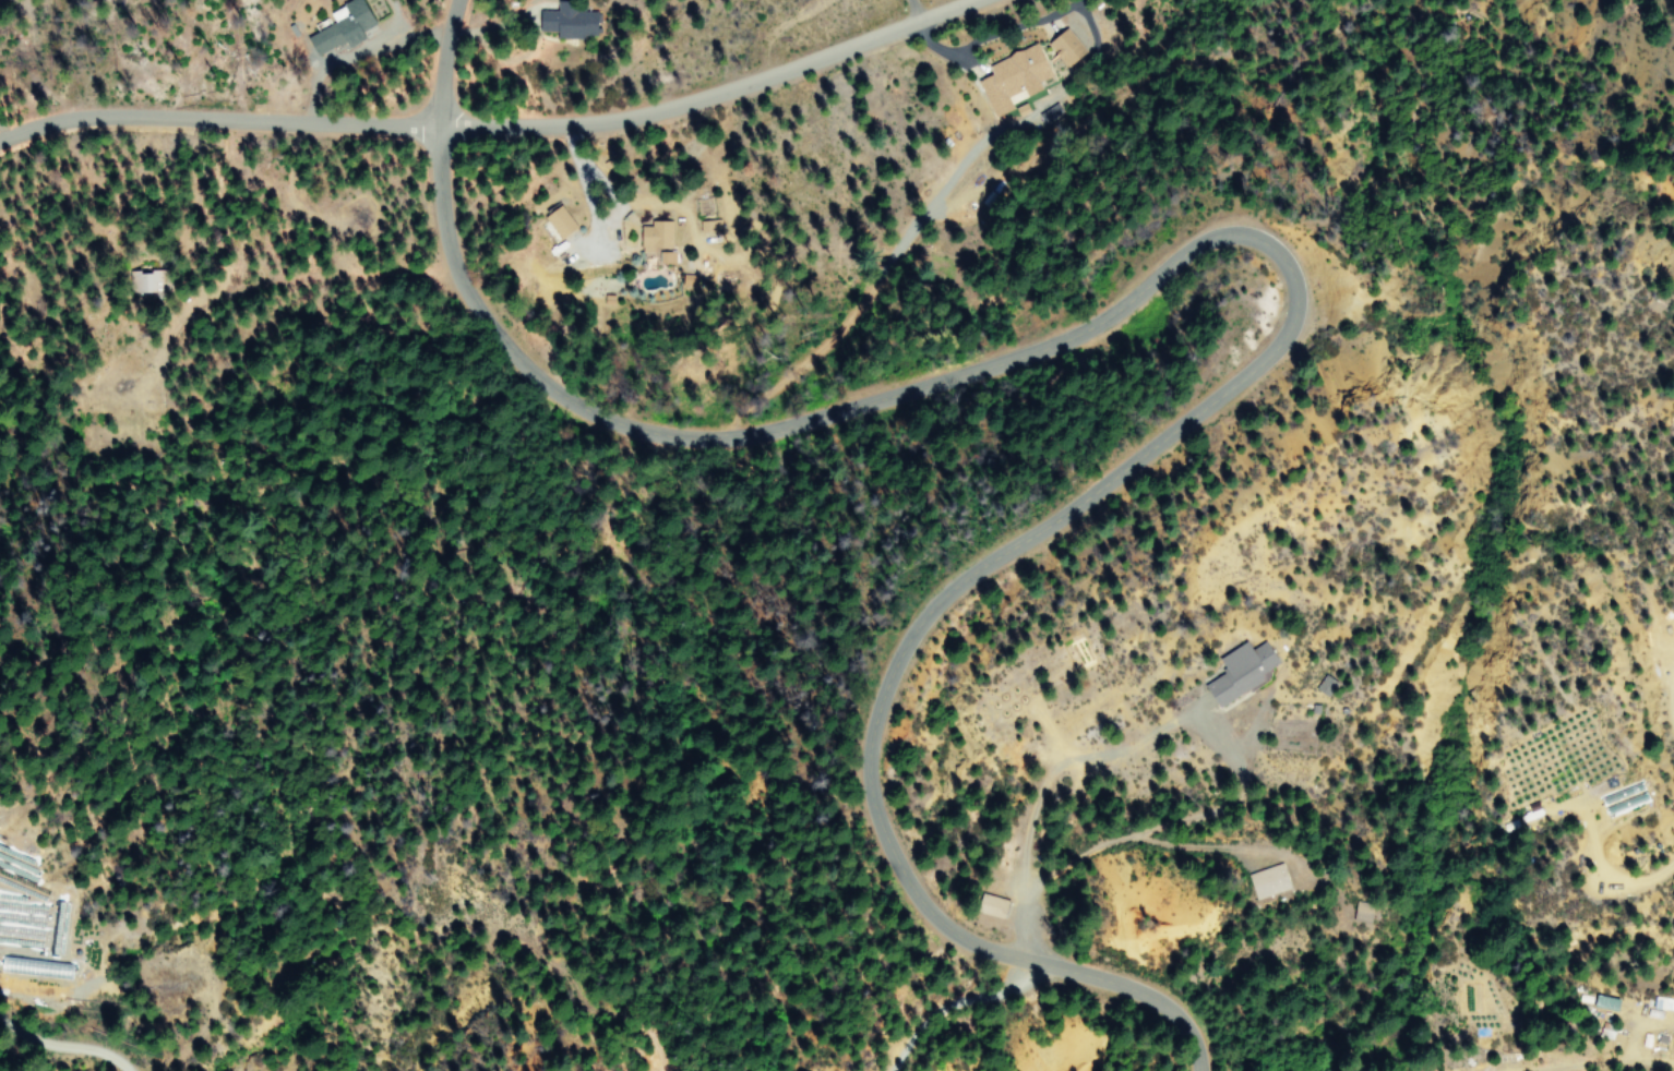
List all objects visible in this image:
building: (564, 23)
building: (337, 27)
building: (1064, 47)
road: (440, 62)
building: (1011, 76)
road: (706, 96)
road: (214, 119)
building: (557, 220)
road: (1242, 234)
building: (656, 240)
building: (151, 281)
building: (1235, 672)
road: (1064, 761)
building: (1265, 880)
building: (985, 905)
building: (27, 925)
building: (37, 966)
road: (1144, 995)
road: (959, 1004)
road: (38, 1040)

